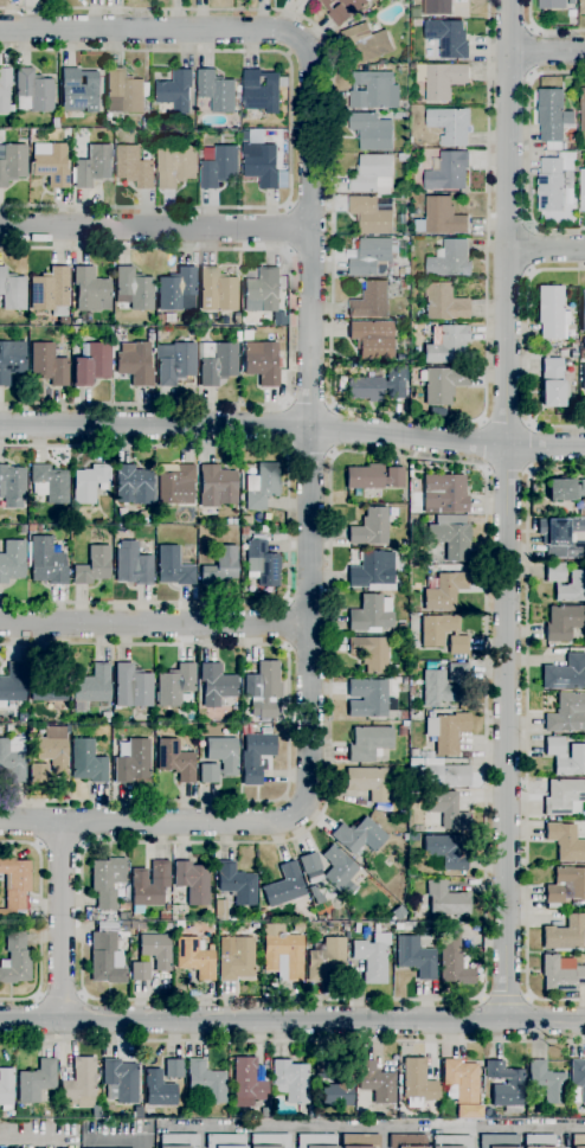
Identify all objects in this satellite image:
building: (552, 4)
building: (436, 7)
building: (580, 7)
building: (342, 9)
building: (414, 12)
building: (416, 21)
road: (545, 28)
road: (152, 30)
building: (448, 37)
building: (367, 41)
road: (546, 51)
road: (529, 52)
building: (439, 78)
building: (238, 88)
building: (5, 90)
building: (176, 90)
building: (217, 90)
building: (262, 90)
building: (373, 90)
building: (32, 91)
building: (78, 91)
building: (124, 92)
building: (581, 107)
building: (399, 115)
building: (552, 116)
building: (146, 122)
building: (450, 124)
road: (289, 128)
building: (371, 130)
building: (193, 133)
building: (201, 137)
road: (527, 149)
building: (403, 156)
building: (12, 162)
building: (50, 163)
building: (261, 163)
building: (175, 165)
building: (218, 165)
building: (134, 166)
building: (92, 167)
building: (448, 172)
building: (371, 173)
building: (554, 180)
building: (583, 190)
building: (369, 214)
building: (441, 217)
road: (154, 226)
road: (285, 229)
road: (533, 249)
road: (546, 249)
building: (371, 256)
building: (449, 258)
building: (404, 283)
building: (263, 288)
building: (134, 289)
building: (12, 290)
building: (90, 290)
building: (176, 290)
building: (217, 290)
building: (50, 291)
building: (371, 300)
building: (443, 302)
building: (583, 309)
building: (552, 313)
building: (83, 316)
building: (236, 318)
building: (163, 319)
building: (205, 319)
road: (289, 328)
building: (193, 332)
building: (150, 334)
building: (572, 334)
building: (247, 335)
building: (237, 336)
building: (372, 339)
road: (329, 341)
building: (583, 341)
building: (573, 342)
building: (446, 345)
road: (528, 348)
building: (416, 351)
building: (574, 354)
building: (583, 354)
building: (11, 360)
building: (134, 363)
building: (174, 363)
building: (217, 363)
building: (262, 363)
building: (49, 365)
building: (92, 365)
building: (583, 376)
building: (442, 384)
building: (553, 384)
building: (374, 387)
road: (309, 405)
road: (506, 424)
road: (310, 425)
road: (288, 427)
road: (292, 427)
road: (332, 430)
road: (484, 444)
road: (527, 447)
road: (310, 450)
road: (508, 469)
road: (486, 473)
building: (373, 477)
building: (89, 482)
building: (175, 483)
building: (49, 485)
building: (134, 485)
building: (12, 486)
building: (262, 486)
building: (217, 487)
building: (565, 489)
building: (441, 494)
road: (507, 511)
building: (142, 514)
building: (229, 520)
building: (234, 520)
road: (289, 522)
building: (31, 527)
building: (369, 527)
building: (22, 530)
building: (39, 530)
building: (274, 530)
building: (244, 531)
building: (450, 535)
building: (561, 538)
building: (12, 560)
building: (46, 562)
building: (262, 562)
building: (92, 565)
building: (133, 565)
building: (220, 566)
building: (173, 567)
building: (443, 567)
building: (372, 571)
building: (554, 572)
building: (571, 588)
building: (444, 591)
building: (371, 614)
building: (564, 622)
road: (154, 623)
road: (285, 624)
building: (401, 628)
building: (437, 629)
building: (414, 644)
building: (458, 646)
building: (369, 653)
building: (565, 673)
building: (458, 674)
building: (12, 684)
building: (174, 685)
building: (216, 685)
building: (131, 686)
building: (91, 688)
building: (437, 688)
building: (47, 690)
building: (263, 690)
building: (411, 690)
building: (368, 698)
building: (567, 713)
road: (289, 721)
building: (404, 730)
building: (265, 731)
building: (446, 731)
road: (527, 733)
building: (368, 743)
building: (554, 746)
building: (413, 752)
building: (221, 753)
building: (50, 755)
building: (255, 756)
building: (13, 759)
building: (175, 761)
building: (86, 762)
building: (133, 762)
building: (571, 762)
building: (413, 764)
building: (208, 774)
building: (442, 774)
building: (368, 782)
building: (565, 797)
building: (381, 807)
building: (446, 809)
building: (400, 810)
road: (150, 820)
building: (358, 836)
building: (565, 841)
road: (60, 846)
building: (446, 851)
building: (310, 862)
building: (337, 867)
building: (107, 881)
building: (192, 881)
building: (237, 884)
building: (565, 885)
building: (14, 886)
building: (148, 886)
building: (284, 886)
building: (445, 900)
building: (578, 904)
building: (122, 905)
building: (167, 906)
building: (220, 910)
building: (397, 912)
building: (262, 913)
building: (163, 915)
road: (63, 919)
road: (40, 921)
building: (179, 924)
building: (404, 926)
building: (565, 935)
building: (156, 950)
building: (282, 955)
building: (416, 956)
building: (372, 957)
building: (194, 958)
building: (326, 958)
building: (452, 958)
building: (15, 960)
building: (105, 960)
building: (237, 960)
building: (140, 970)
building: (561, 974)
road: (60, 995)
road: (506, 996)
road: (291, 1020)
road: (292, 1041)
building: (174, 1069)
building: (121, 1079)
building: (37, 1080)
building: (459, 1080)
building: (578, 1080)
building: (81, 1082)
building: (207, 1082)
building: (290, 1082)
building: (377, 1082)
building: (546, 1082)
building: (246, 1083)
building: (417, 1083)
building: (337, 1086)
building: (504, 1086)
building: (6, 1089)
building: (159, 1089)
building: (95, 1111)
building: (21, 1112)
building: (150, 1112)
building: (469, 1114)
road: (382, 1127)
building: (178, 1141)
building: (225, 1141)
building: (270, 1141)
building: (316, 1141)
building: (360, 1141)
building: (406, 1141)
building: (451, 1141)
building: (499, 1141)
building: (538, 1141)
building: (578, 1141)

